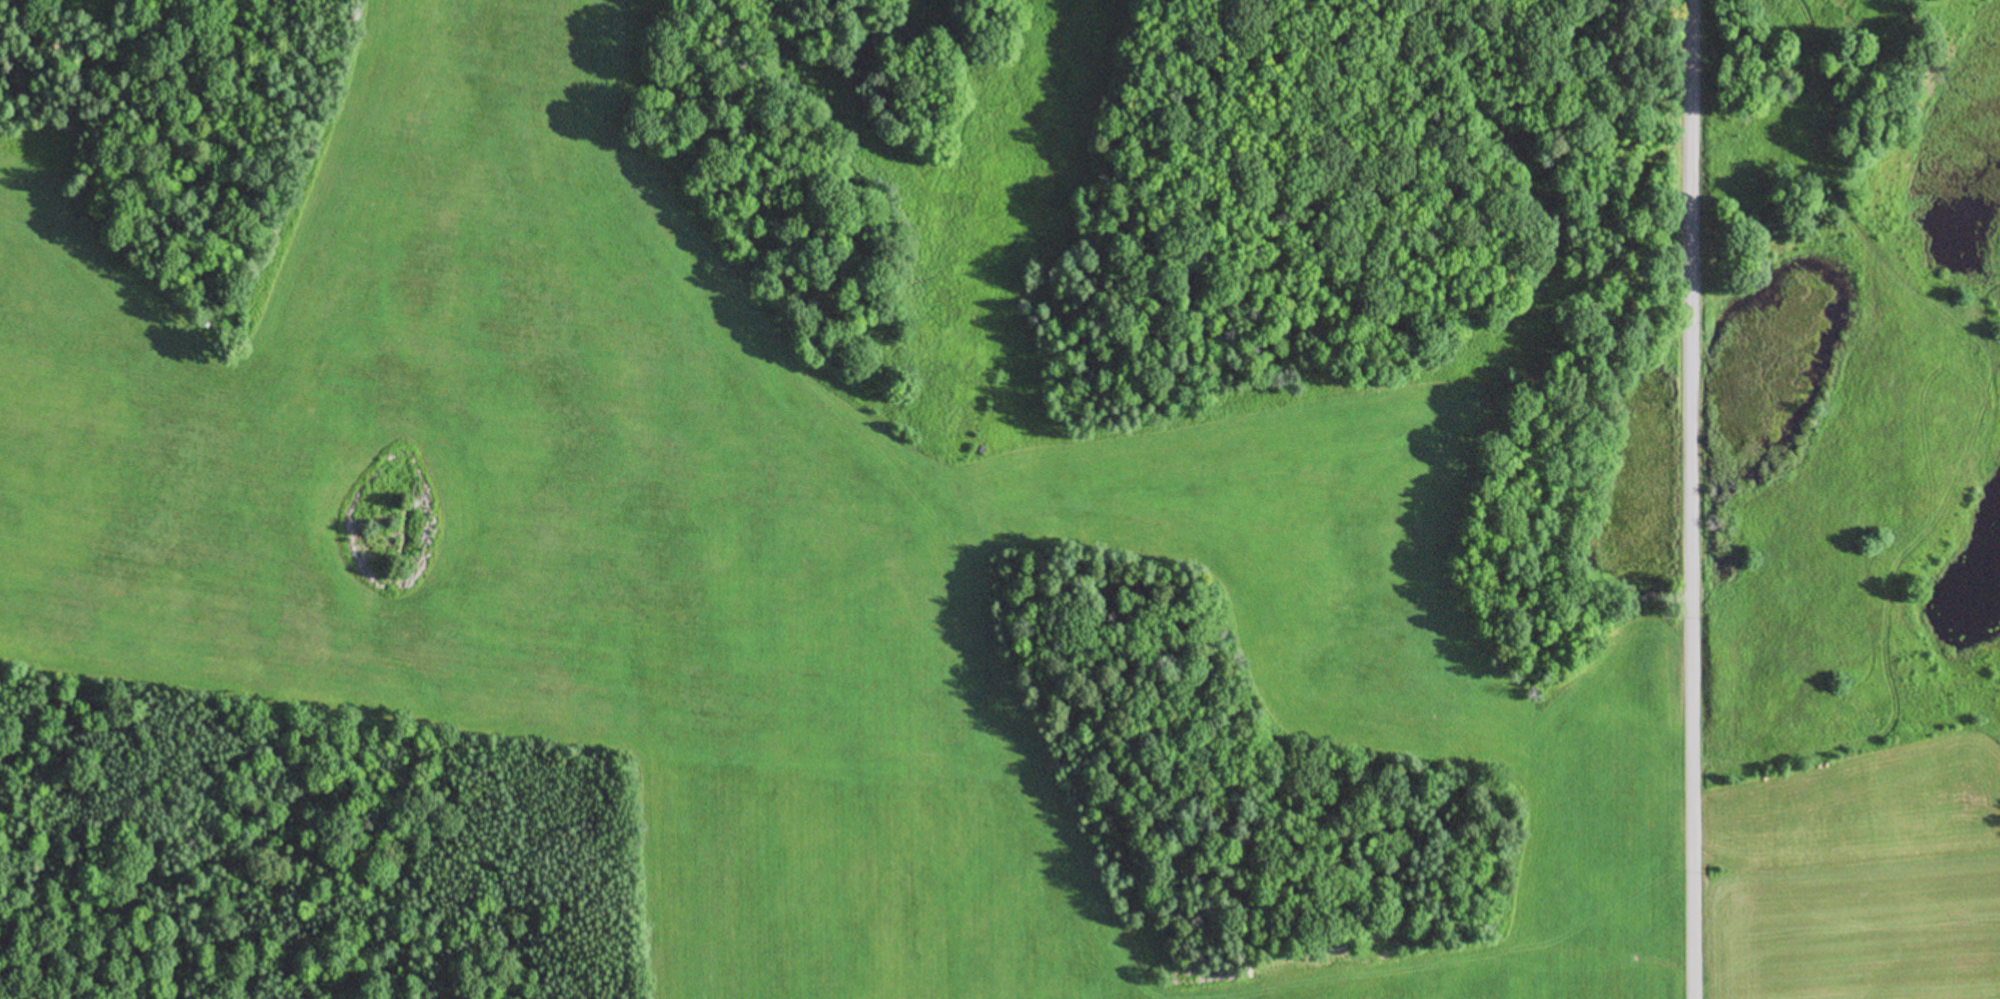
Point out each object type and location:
road: (1690, 499)

